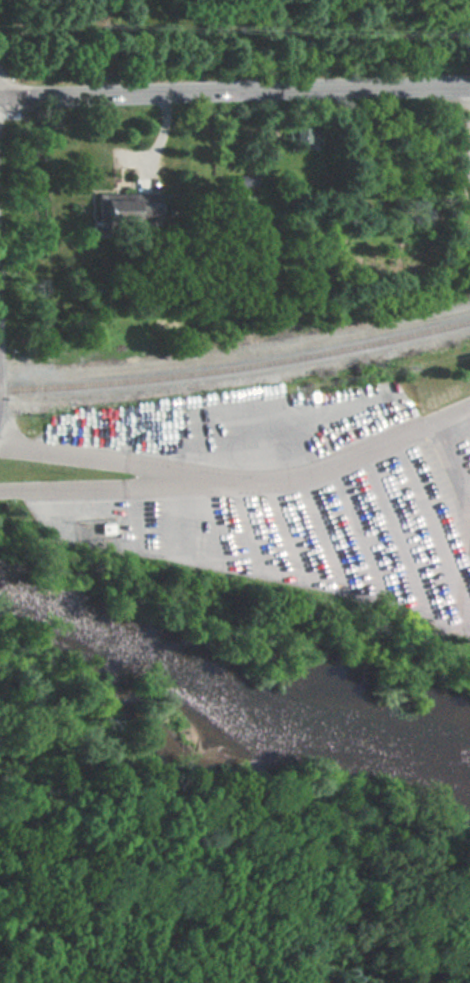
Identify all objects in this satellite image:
road: (235, 91)
road: (10, 113)
building: (305, 134)
power substation: (468, 149)
building: (132, 208)
railway: (236, 366)
road: (240, 476)
road: (127, 481)
parking lot: (305, 492)
river: (226, 707)
road: (42, 939)

